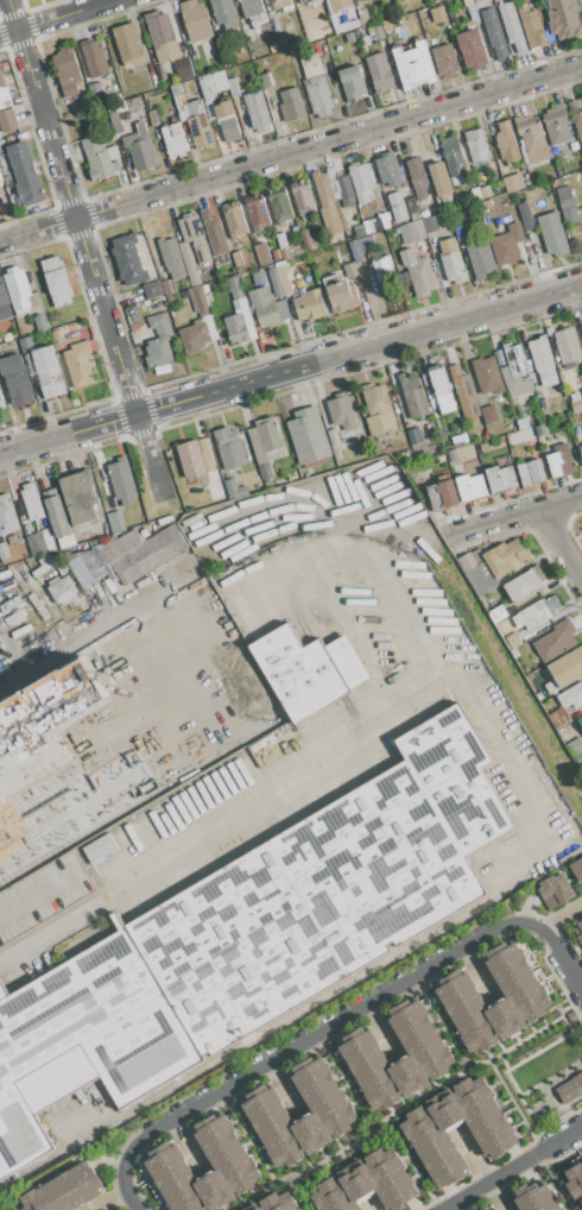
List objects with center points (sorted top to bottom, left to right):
building: (356, 0)
building: (361, 0)
building: (436, 0)
building: (477, 0)
building: (304, 1)
building: (467, 2)
building: (280, 4)
building: (340, 5)
building: (253, 11)
building: (223, 13)
building: (472, 13)
building: (437, 14)
building: (367, 18)
building: (564, 18)
road: (62, 19)
building: (197, 25)
building: (349, 25)
building: (511, 26)
building: (532, 27)
building: (371, 33)
building: (494, 33)
building: (162, 37)
building: (283, 43)
building: (128, 44)
building: (273, 48)
building: (472, 49)
building: (113, 51)
building: (95, 58)
building: (445, 59)
building: (311, 64)
building: (412, 65)
building: (184, 68)
building: (68, 71)
building: (378, 73)
building: (221, 77)
building: (265, 81)
building: (352, 83)
building: (233, 87)
building: (176, 89)
building: (205, 89)
building: (4, 90)
building: (320, 95)
building: (5, 103)
building: (291, 105)
building: (257, 111)
building: (576, 118)
building: (7, 120)
building: (227, 120)
building: (115, 122)
building: (200, 125)
building: (557, 125)
building: (530, 132)
building: (172, 140)
building: (506, 143)
building: (475, 145)
building: (140, 149)
road: (290, 155)
building: (453, 156)
building: (99, 157)
building: (388, 170)
building: (330, 172)
building: (25, 174)
building: (417, 176)
building: (439, 178)
building: (0, 179)
building: (7, 182)
building: (362, 182)
building: (512, 182)
building: (323, 189)
building: (346, 191)
building: (486, 191)
building: (303, 197)
building: (279, 204)
building: (568, 206)
building: (397, 207)
building: (258, 212)
building: (526, 219)
building: (234, 220)
building: (430, 223)
building: (411, 231)
building: (214, 232)
building: (552, 233)
building: (280, 240)
building: (507, 244)
road: (86, 247)
building: (356, 250)
building: (202, 252)
building: (262, 253)
building: (276, 254)
building: (171, 256)
building: (480, 258)
building: (128, 259)
building: (238, 259)
building: (451, 260)
building: (382, 269)
building: (349, 270)
building: (418, 272)
building: (284, 279)
building: (56, 281)
building: (234, 282)
building: (258, 282)
building: (274, 282)
building: (167, 286)
building: (152, 290)
building: (20, 291)
building: (341, 294)
building: (198, 300)
building: (4, 304)
building: (310, 304)
building: (266, 308)
building: (39, 323)
building: (236, 327)
building: (581, 328)
building: (194, 336)
building: (158, 341)
building: (26, 344)
building: (568, 347)
building: (540, 357)
building: (77, 364)
road: (290, 370)
building: (513, 370)
building: (49, 373)
building: (486, 374)
building: (15, 379)
building: (441, 389)
building: (463, 392)
building: (412, 395)
building: (1, 402)
building: (576, 402)
building: (543, 403)
building: (506, 407)
building: (379, 410)
building: (489, 414)
building: (344, 421)
building: (415, 435)
building: (308, 436)
building: (460, 440)
building: (266, 443)
building: (483, 446)
building: (229, 448)
building: (580, 452)
building: (406, 455)
building: (453, 455)
building: (441, 459)
building: (559, 460)
building: (474, 464)
building: (202, 467)
building: (531, 473)
building: (500, 479)
building: (121, 480)
building: (470, 487)
building: (234, 489)
building: (442, 494)
building: (78, 497)
building: (31, 502)
building: (7, 515)
road: (524, 516)
building: (58, 522)
building: (115, 522)
building: (39, 542)
road: (561, 544)
building: (126, 555)
building: (506, 557)
building: (44, 565)
building: (63, 568)
building: (477, 573)
building: (521, 586)
building: (62, 591)
building: (536, 612)
building: (496, 613)
road: (99, 623)
building: (154, 629)
building: (513, 641)
building: (555, 641)
building: (308, 670)
building: (564, 670)
building: (141, 685)
building: (539, 695)
building: (571, 697)
building: (580, 721)
building: (576, 750)
road: (311, 779)
building: (7, 787)
building: (100, 849)
building: (577, 869)
building: (555, 890)
building: (43, 895)
parking lot: (43, 895)
road: (562, 918)
road: (525, 919)
building: (578, 931)
building: (251, 937)
road: (568, 965)
building: (457, 995)
road: (442, 1021)
road: (317, 1033)
building: (360, 1052)
road: (436, 1086)
building: (570, 1089)
building: (264, 1109)
road: (379, 1122)
road: (539, 1135)
building: (426, 1136)
road: (562, 1136)
road: (258, 1159)
building: (232, 1166)
road: (124, 1171)
road: (489, 1179)
building: (575, 1183)
building: (368, 1184)
building: (64, 1191)
road: (246, 1195)
building: (534, 1198)
building: (277, 1202)
building: (485, 1209)

